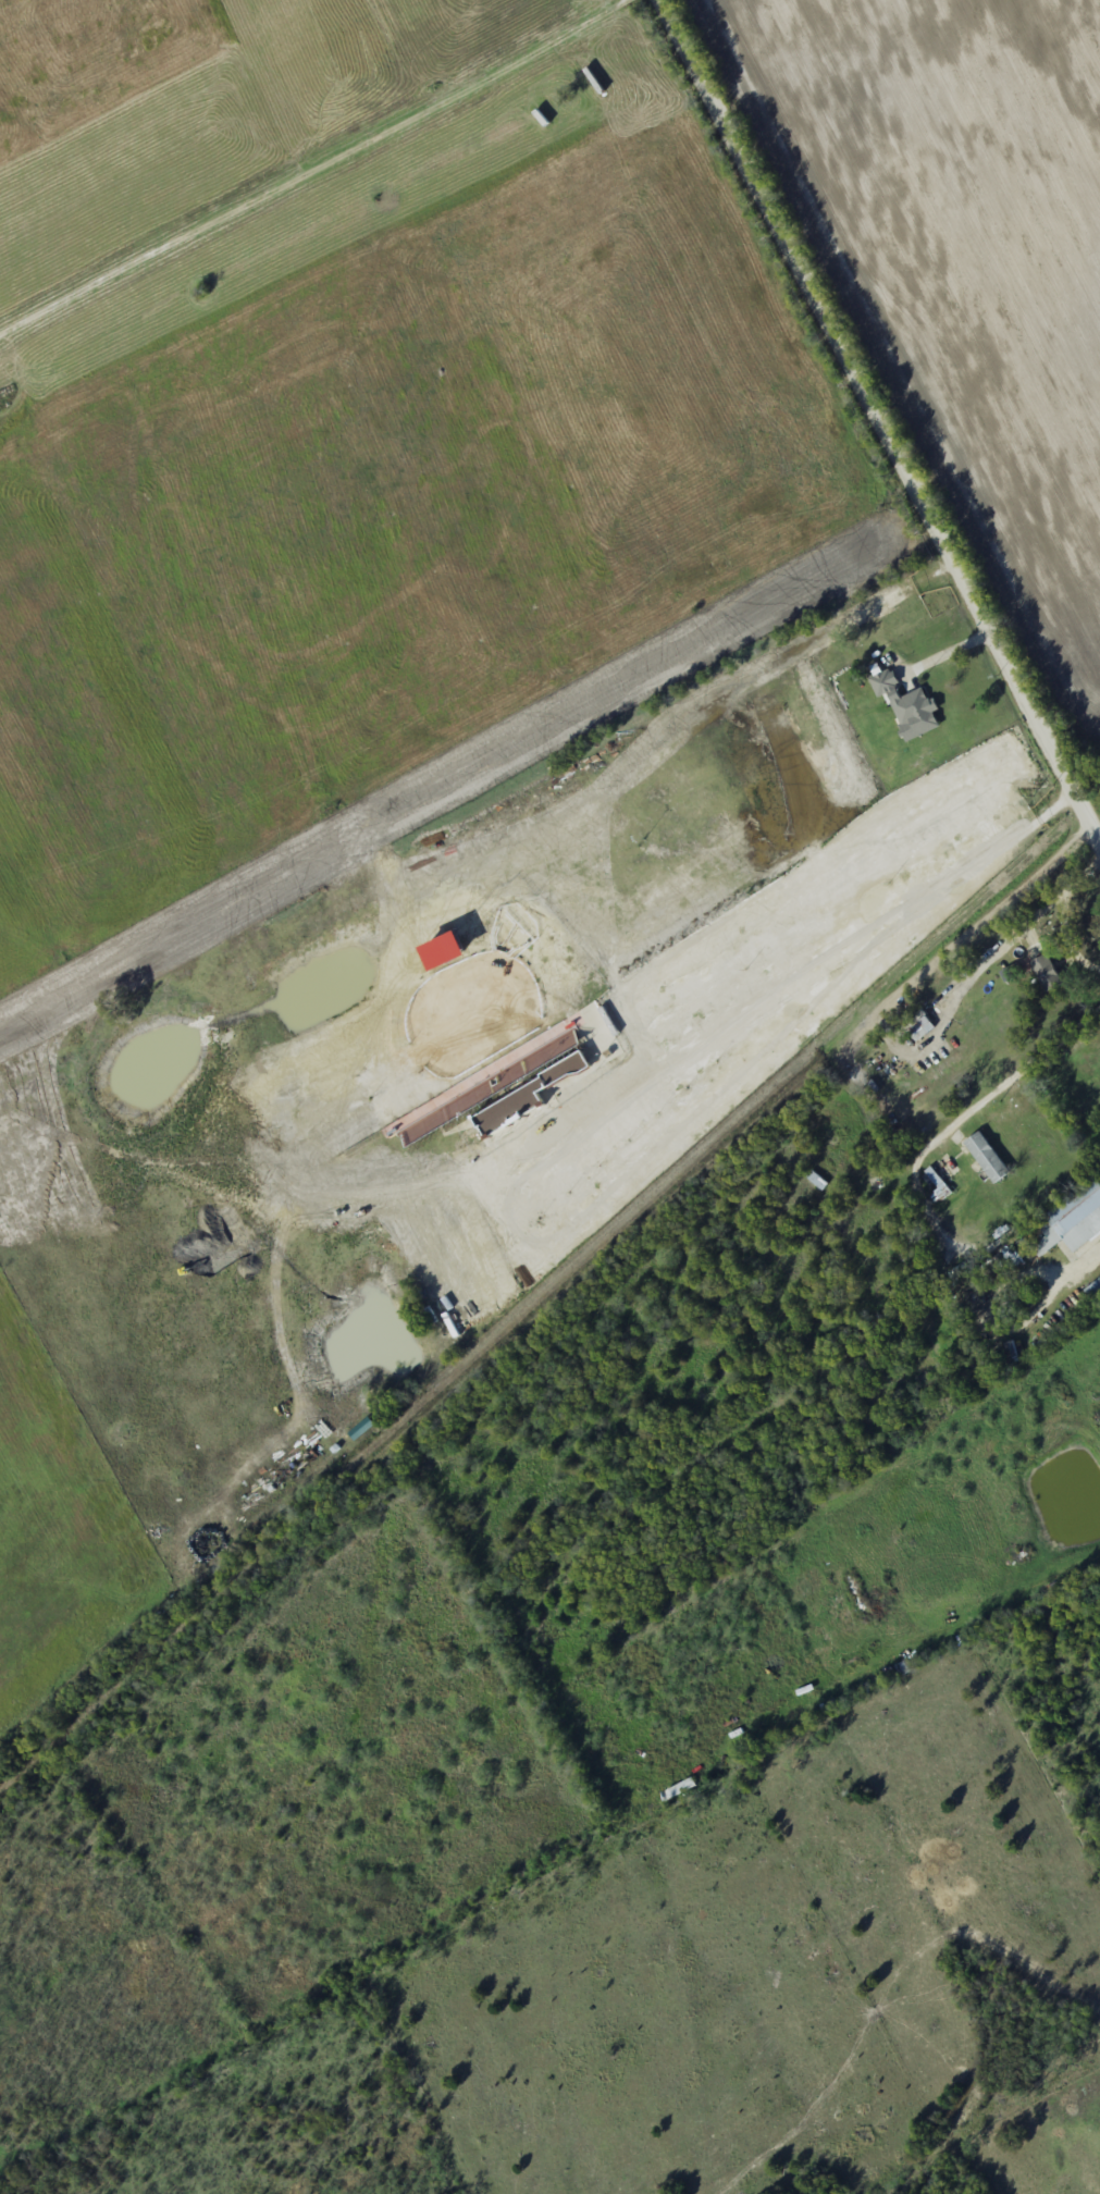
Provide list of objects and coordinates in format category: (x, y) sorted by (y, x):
road: (881, 427)
building: (883, 685)
building: (916, 713)
building: (1047, 974)
building: (532, 1070)
building: (589, 1078)
building: (512, 1117)
building: (992, 1159)
building: (824, 1168)
building: (1073, 1221)
building: (1093, 1292)
railway: (549, 1295)
road: (960, 1634)
building: (902, 1671)
building: (678, 1790)

